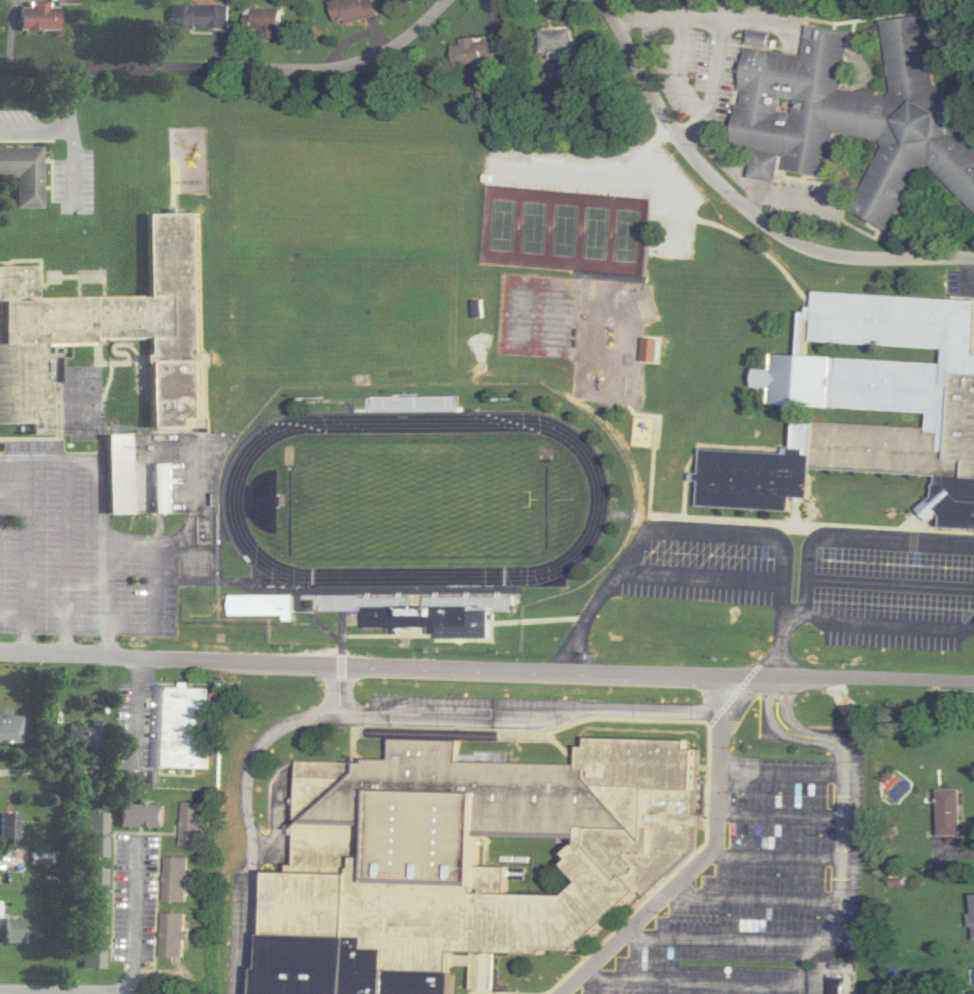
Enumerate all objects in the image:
building: (355, 10)
building: (40, 15)
building: (200, 17)
building: (271, 23)
road: (720, 33)
building: (558, 40)
building: (487, 54)
road: (232, 67)
building: (852, 116)
building: (23, 173)
road: (740, 204)
park: (564, 232)
park: (403, 257)
building: (113, 329)
building: (414, 403)
building: (867, 405)
building: (119, 473)
building: (163, 487)
road: (16, 495)
park: (415, 499)
track: (233, 501)
road: (105, 531)
road: (848, 536)
road: (705, 538)
road: (32, 558)
road: (68, 559)
building: (264, 605)
building: (419, 617)
road: (487, 667)
road: (139, 709)
road: (534, 724)
building: (9, 727)
building: (186, 728)
building: (85, 734)
road: (248, 800)
building: (952, 812)
building: (142, 815)
road: (848, 822)
building: (193, 823)
building: (8, 825)
building: (97, 834)
road: (707, 860)
road: (9, 861)
building: (469, 861)
building: (178, 879)
building: (95, 891)
road: (133, 906)
building: (18, 931)
building: (177, 935)
building: (92, 946)
building: (833, 984)
road: (24, 992)
road: (73, 992)
road: (66, 993)

